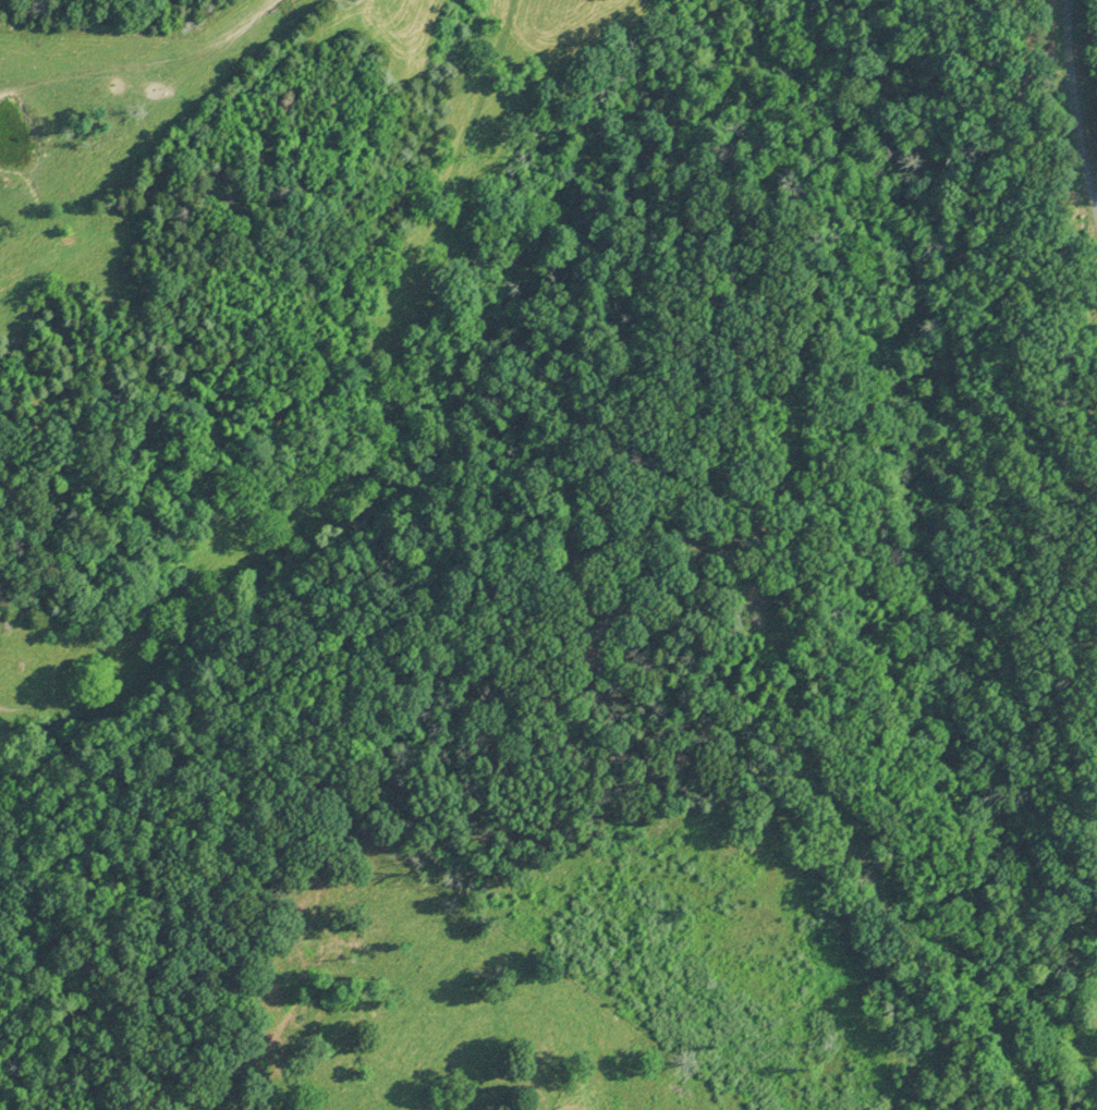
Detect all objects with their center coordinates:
road: (1094, 97)

